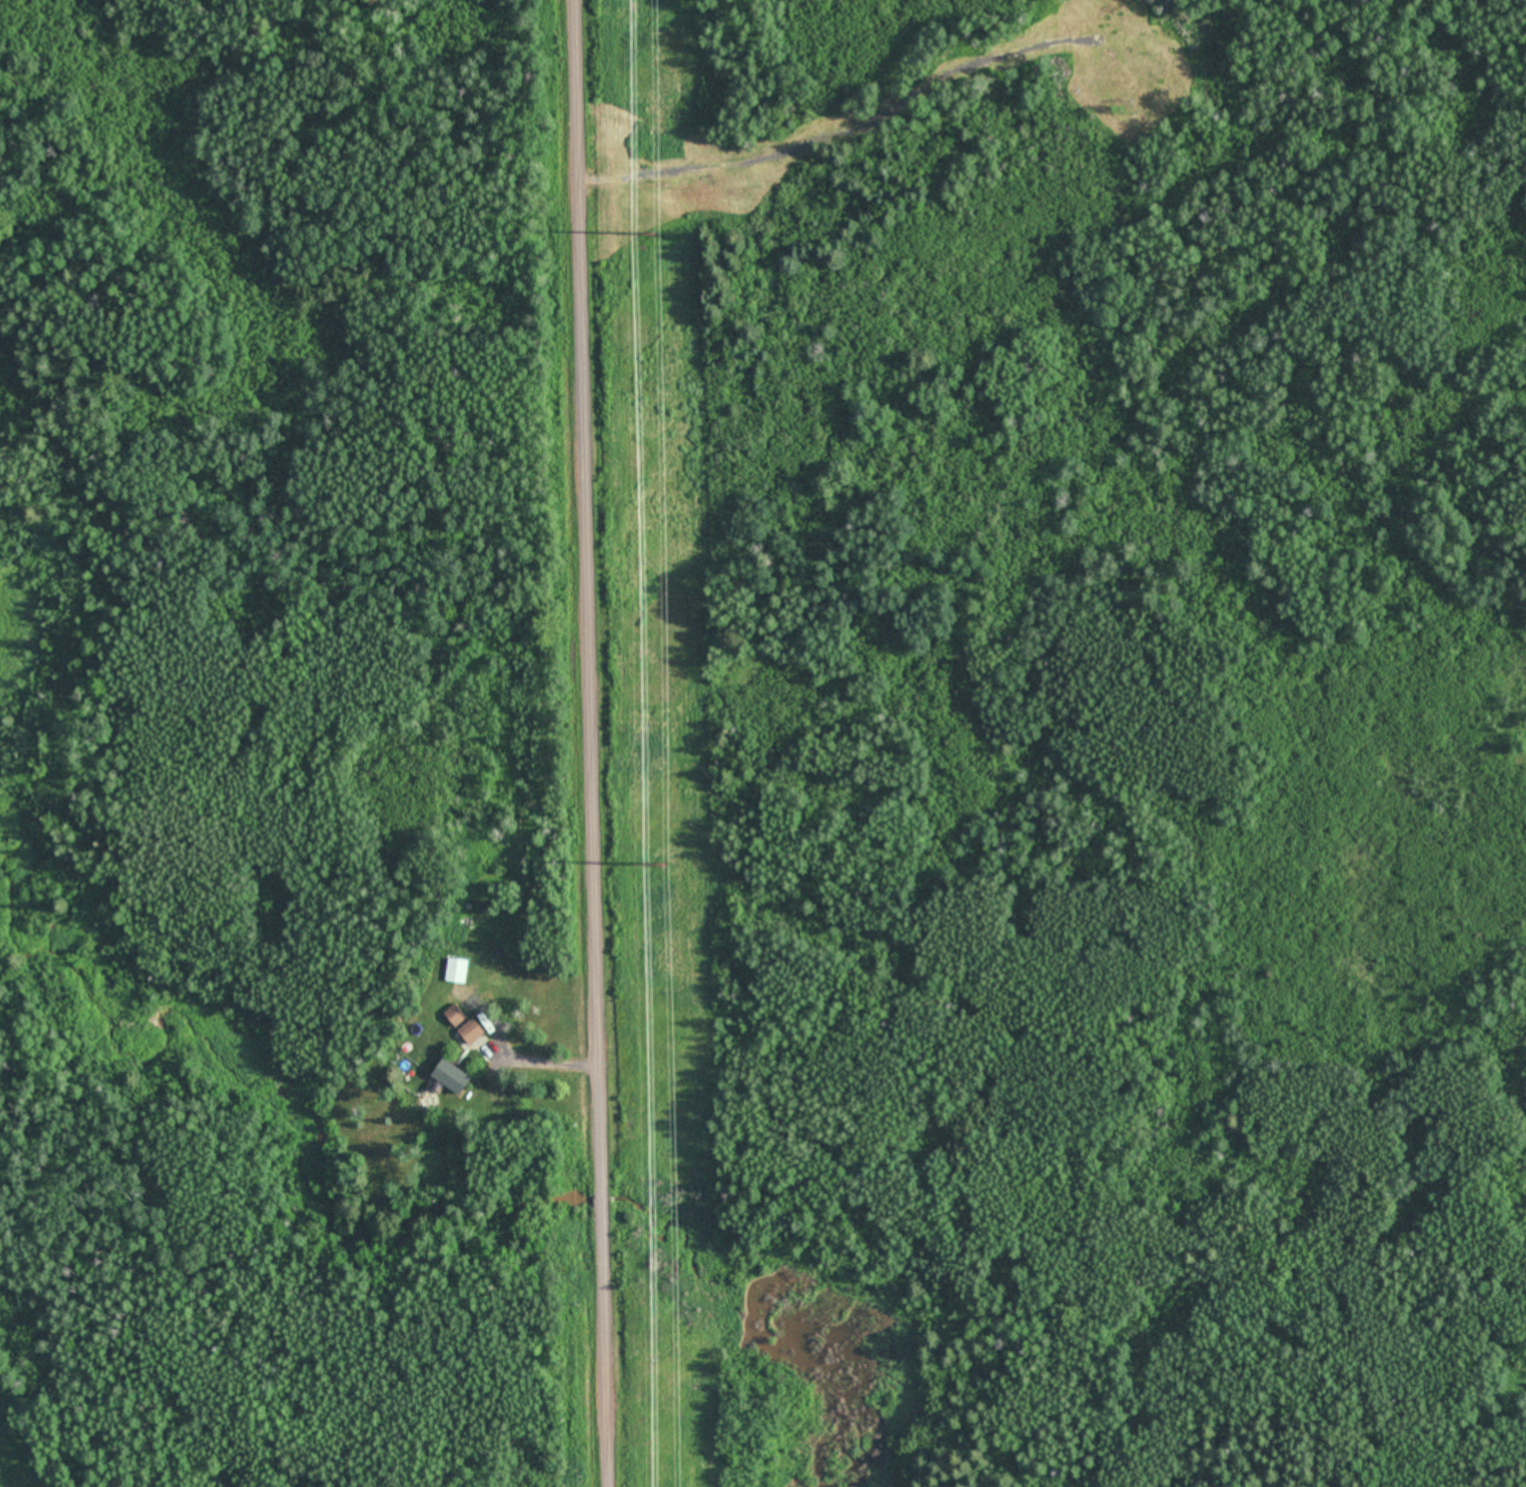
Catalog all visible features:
power tower: (651, 232)
road: (599, 743)
power tower: (663, 863)
building: (456, 971)
building: (454, 1016)
building: (470, 1032)
building: (451, 1077)

